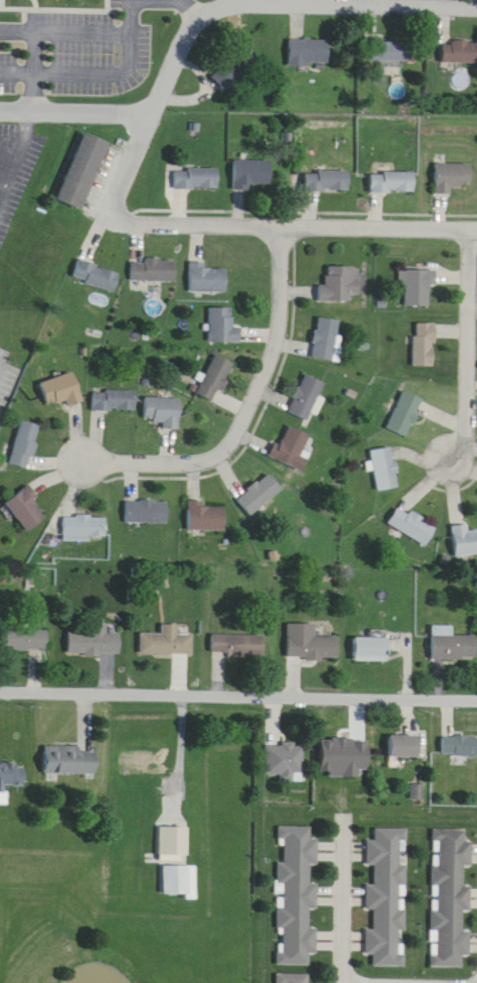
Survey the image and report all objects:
road: (195, 3)
road: (126, 10)
parking lot: (73, 39)
road: (127, 39)
building: (309, 51)
building: (391, 51)
building: (460, 52)
road: (34, 58)
building: (236, 68)
road: (205, 79)
road: (75, 99)
road: (149, 107)
parking lot: (15, 153)
building: (83, 170)
building: (252, 174)
building: (193, 177)
building: (452, 177)
building: (327, 181)
building: (393, 182)
road: (304, 214)
building: (152, 269)
building: (95, 275)
building: (206, 278)
building: (341, 284)
building: (420, 286)
building: (222, 325)
building: (325, 338)
road: (471, 340)
building: (425, 344)
building: (215, 377)
building: (60, 389)
building: (306, 396)
building: (112, 400)
road: (256, 410)
building: (162, 411)
building: (406, 413)
building: (23, 444)
building: (291, 448)
building: (385, 468)
building: (259, 494)
building: (25, 509)
building: (145, 511)
building: (205, 518)
building: (82, 525)
building: (413, 525)
building: (464, 541)
building: (23, 640)
building: (94, 642)
building: (166, 642)
building: (236, 644)
building: (309, 644)
building: (451, 644)
building: (370, 649)
road: (238, 681)
building: (403, 746)
building: (459, 746)
building: (69, 759)
building: (285, 761)
building: (142, 763)
building: (9, 779)
building: (180, 880)
building: (295, 897)
building: (386, 897)
building: (449, 898)
road: (344, 904)
building: (294, 978)

